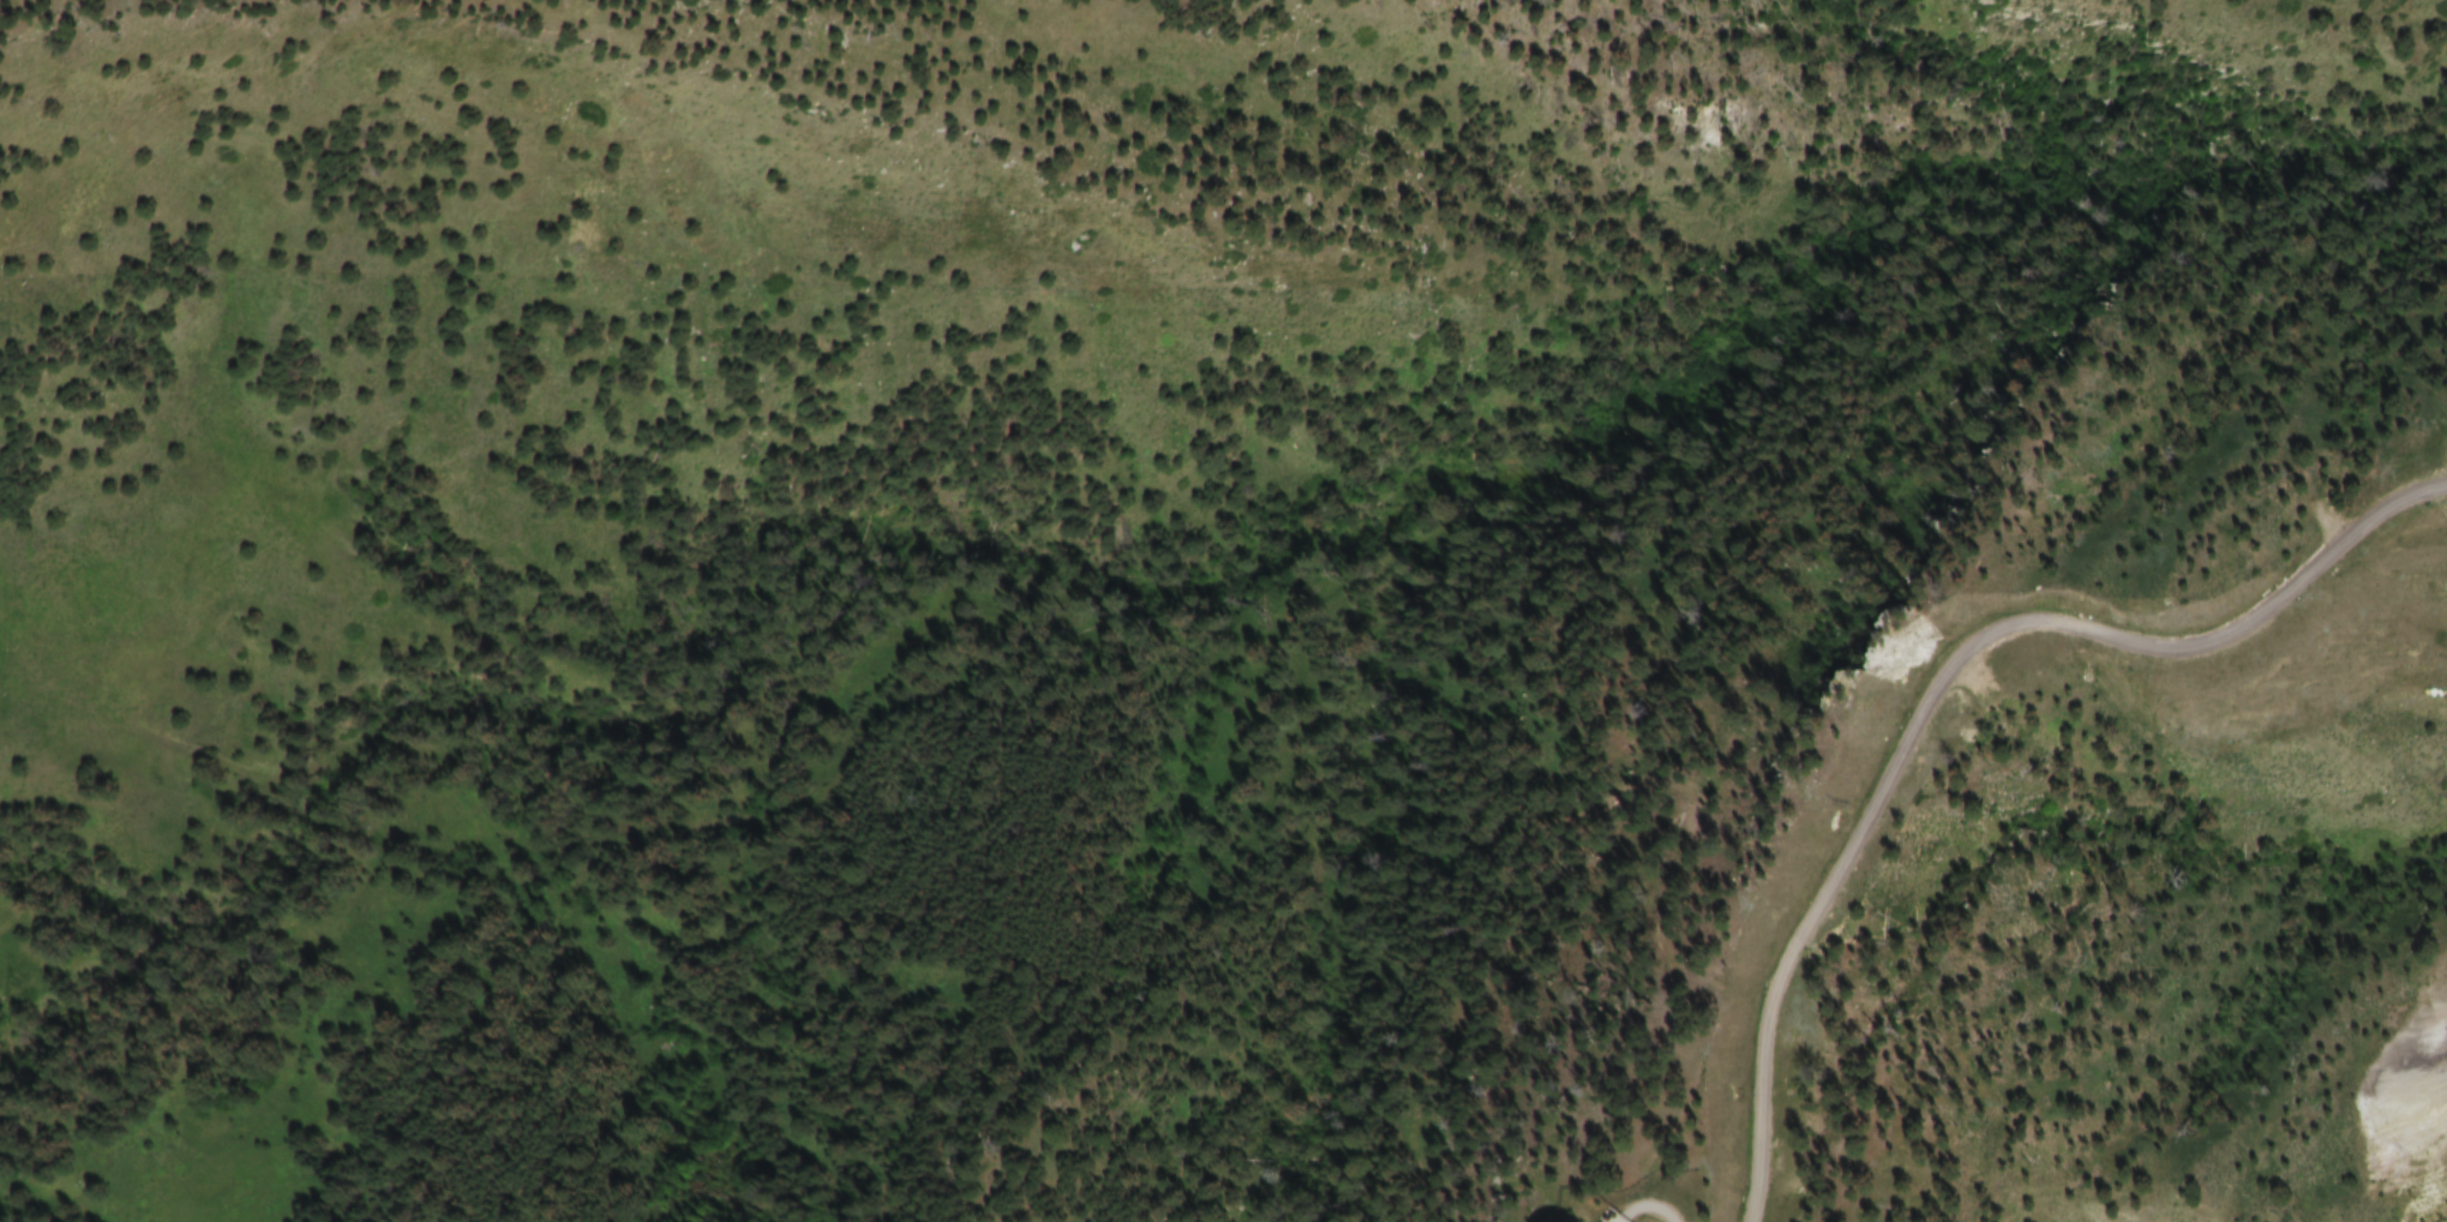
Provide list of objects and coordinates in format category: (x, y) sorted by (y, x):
road: (1941, 684)
building: (1575, 1214)

